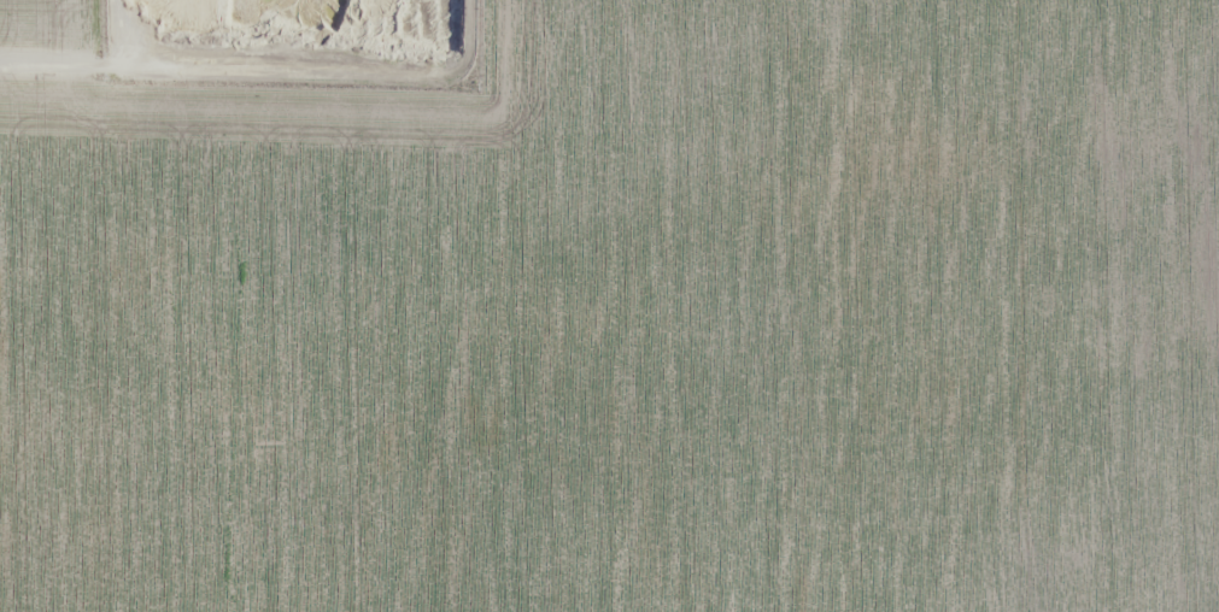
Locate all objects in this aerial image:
crop: (609, 306)

